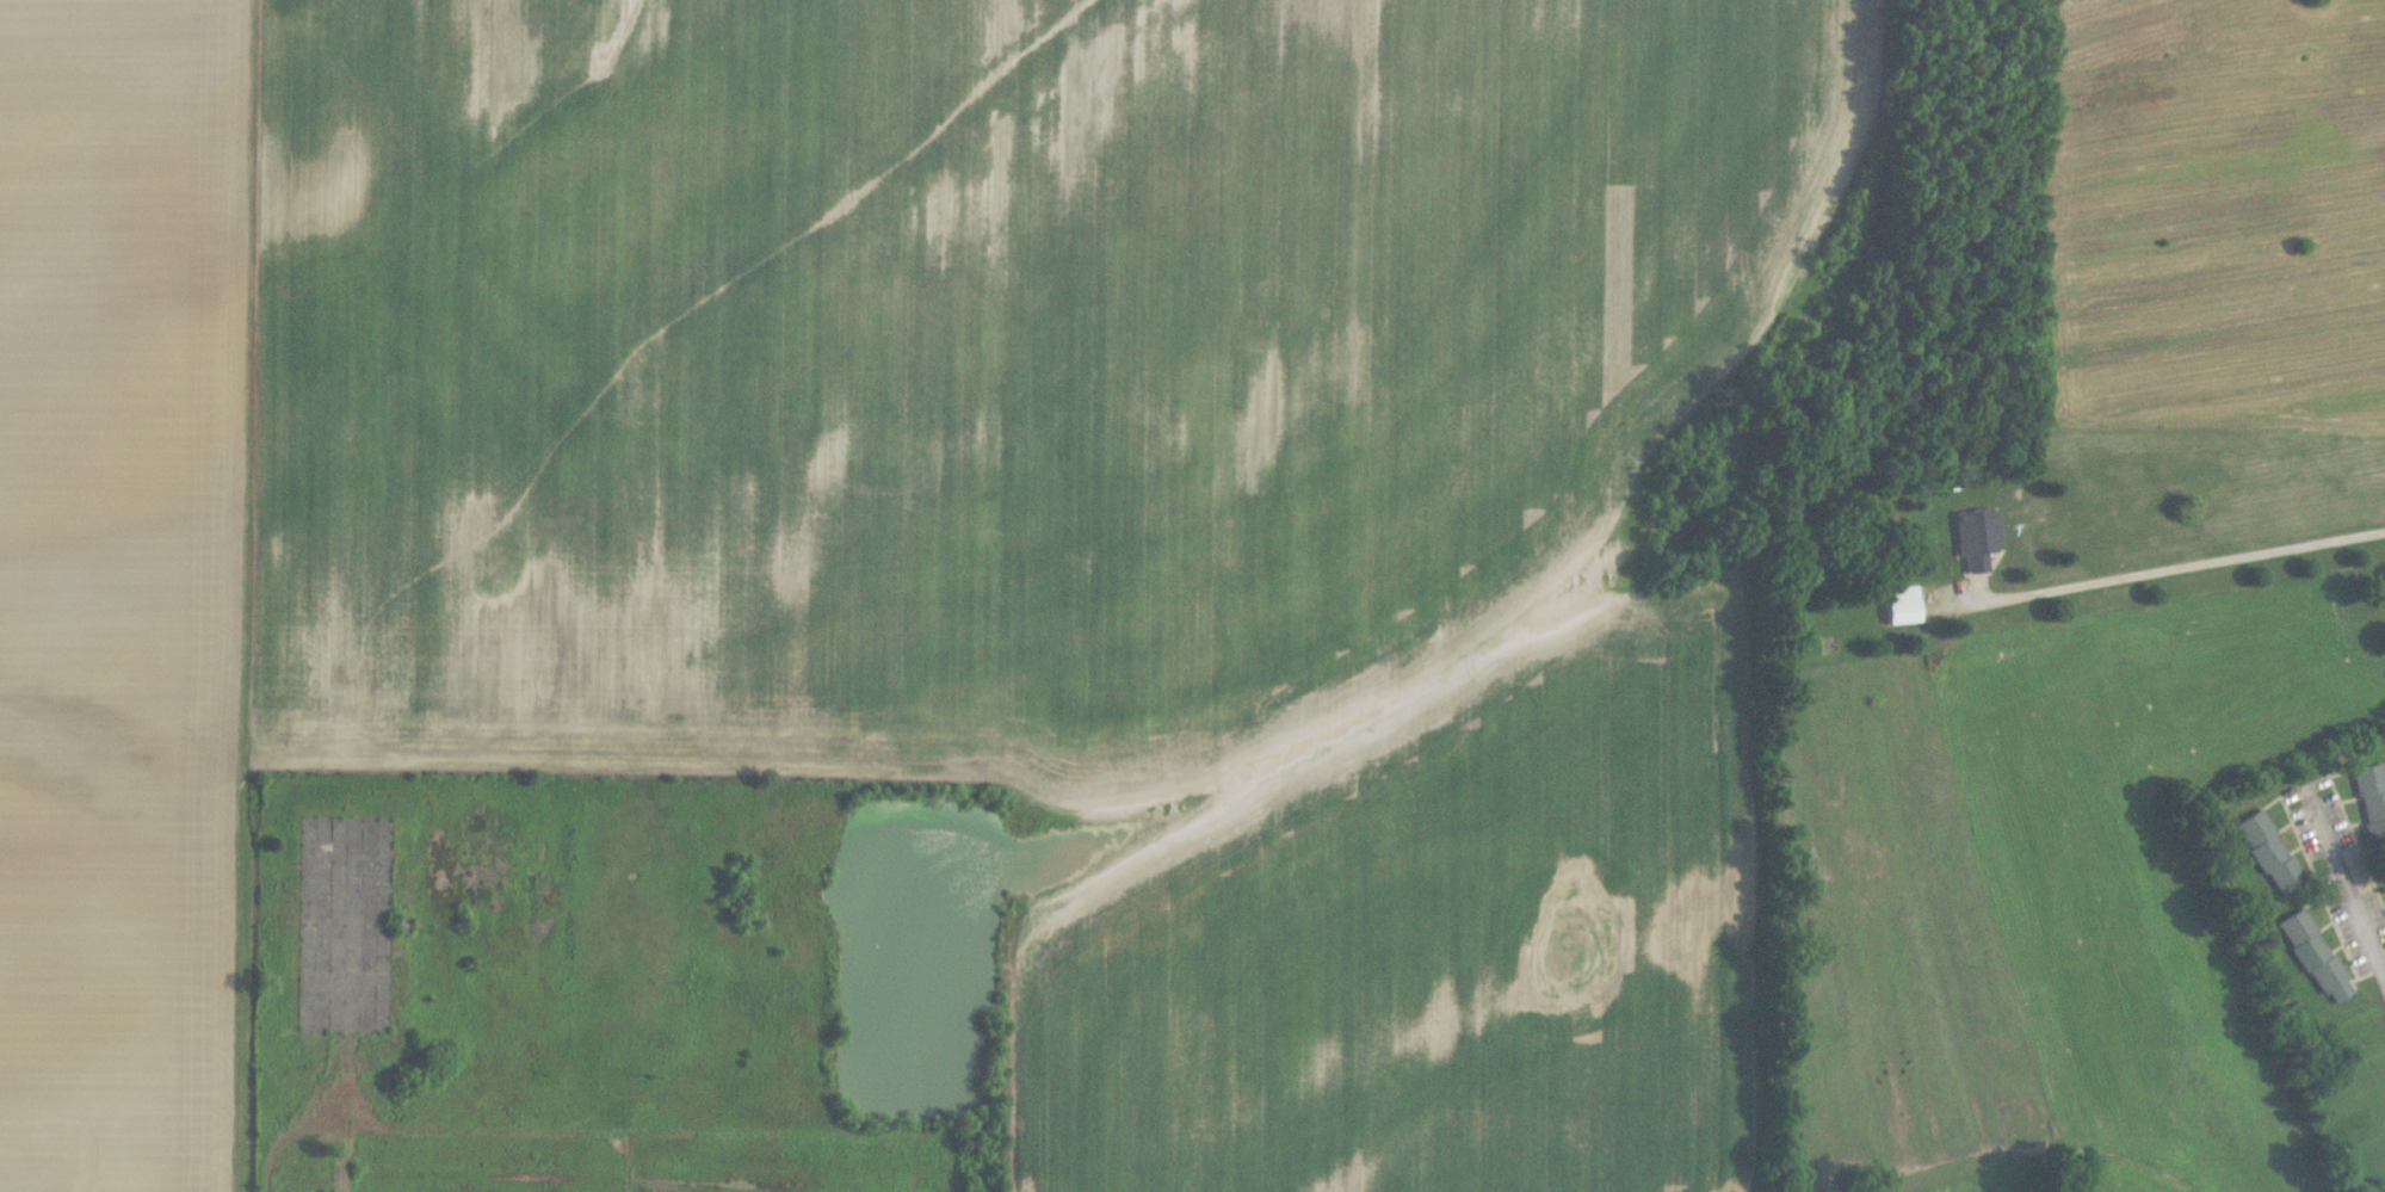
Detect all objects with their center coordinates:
road: (2270, 173)
building: (1977, 537)
road: (2174, 572)
building: (1902, 605)
building: (2372, 798)
building: (2269, 852)
road: (2342, 887)
building: (2316, 956)
road: (315, 1126)

